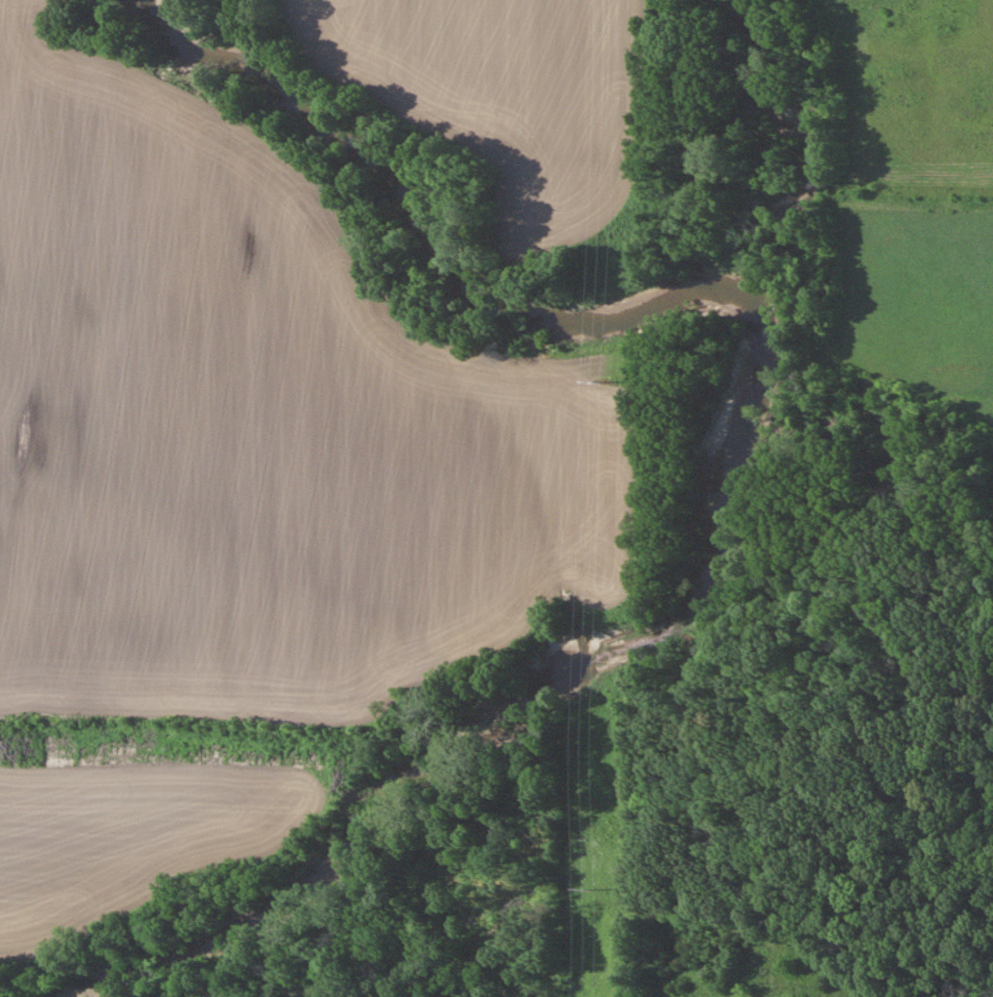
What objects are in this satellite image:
power tower: (592, 384)
power tower: (591, 889)

